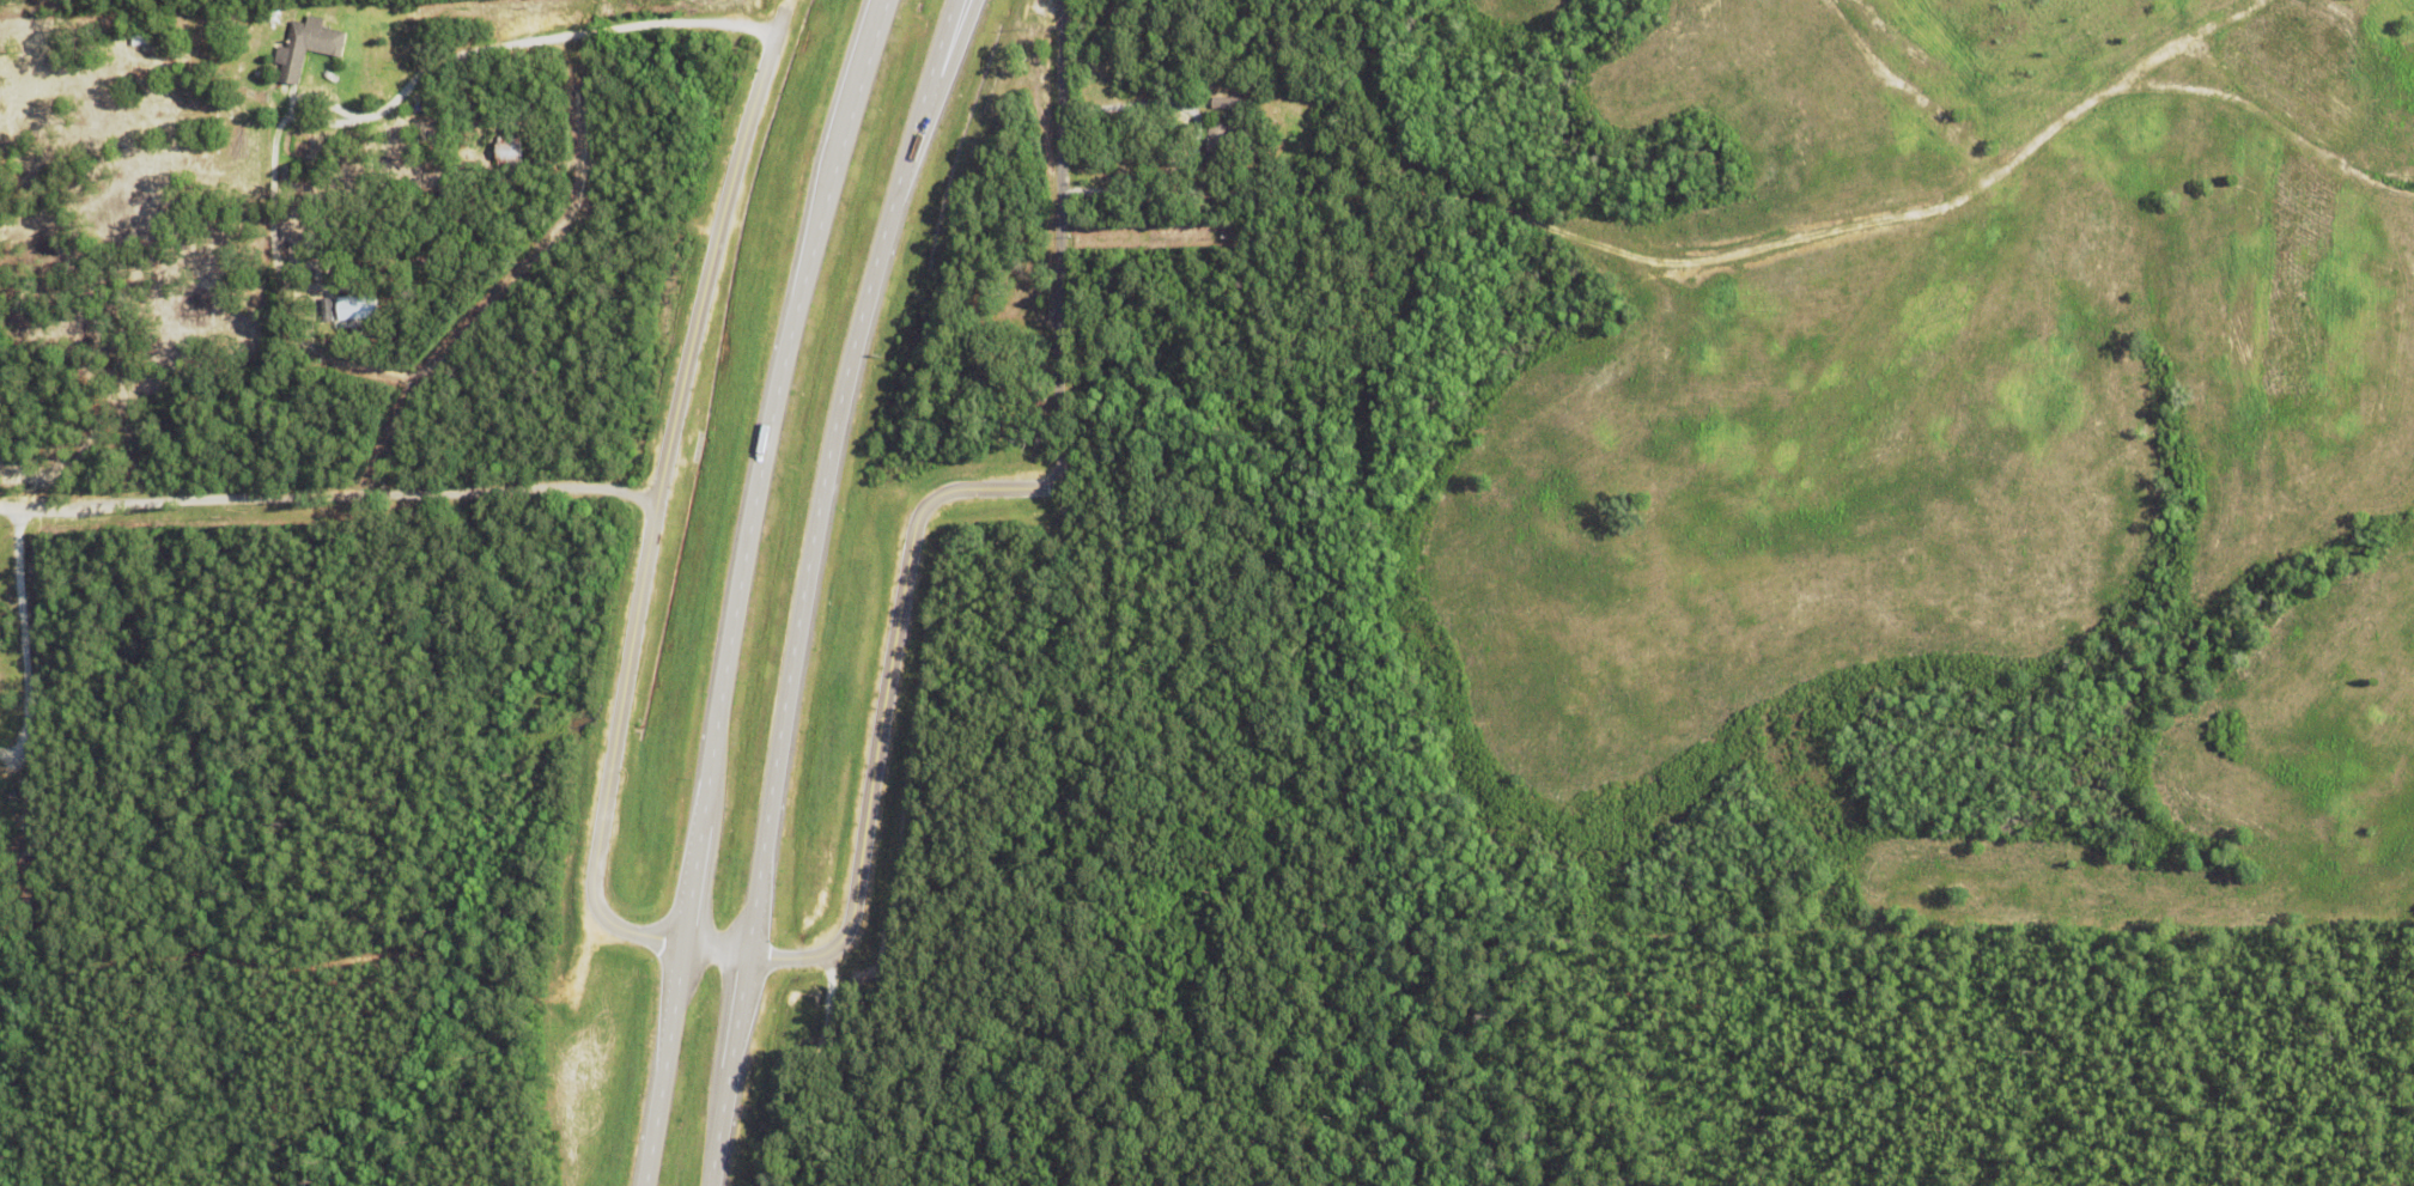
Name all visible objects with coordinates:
road: (554, 37)
building: (306, 50)
building: (1147, 54)
road: (938, 84)
building: (1221, 103)
building: (1216, 148)
building: (515, 153)
building: (509, 160)
road: (1263, 187)
building: (1016, 290)
building: (358, 311)
building: (1016, 347)
road: (327, 497)
road: (801, 585)
road: (735, 586)
road: (28, 633)
building: (22, 795)
road: (792, 961)
building: (1035, 1035)

